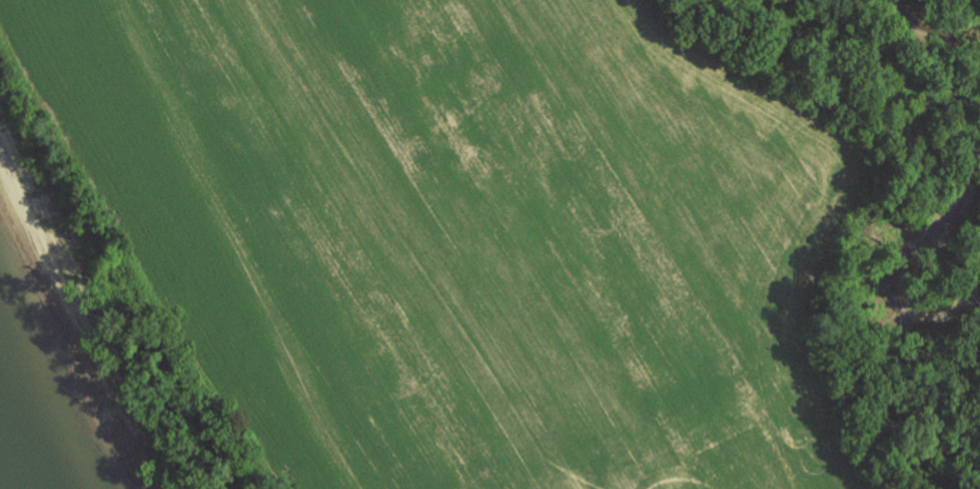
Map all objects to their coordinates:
crop: (433, 233)

